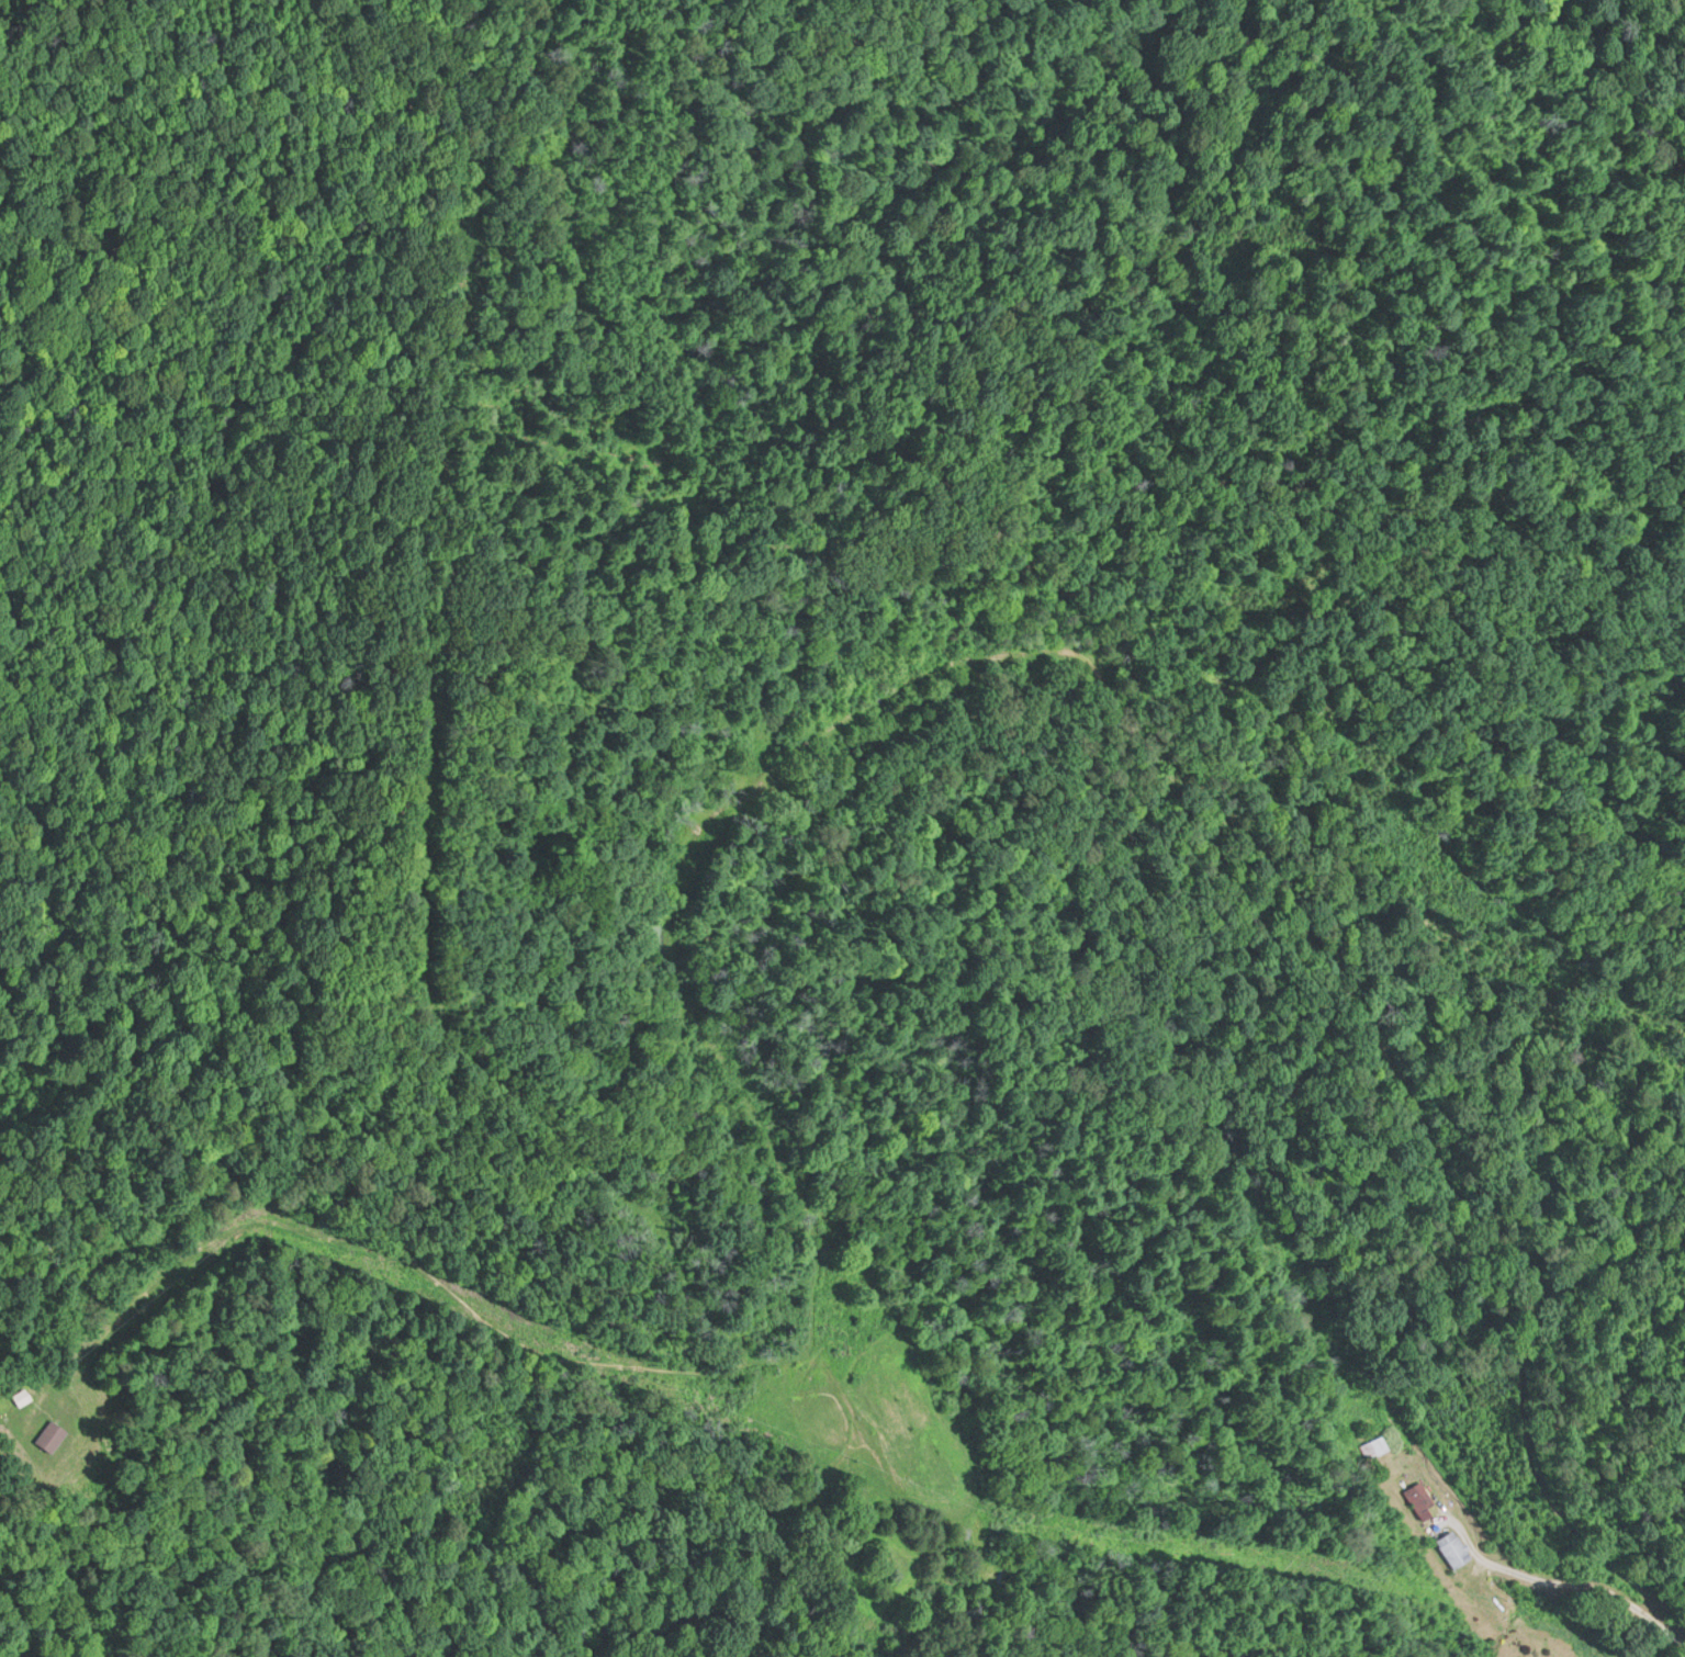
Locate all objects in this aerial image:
building: (22, 1394)
building: (50, 1433)
building: (1373, 1445)
building: (1452, 1547)
road: (1591, 1579)

